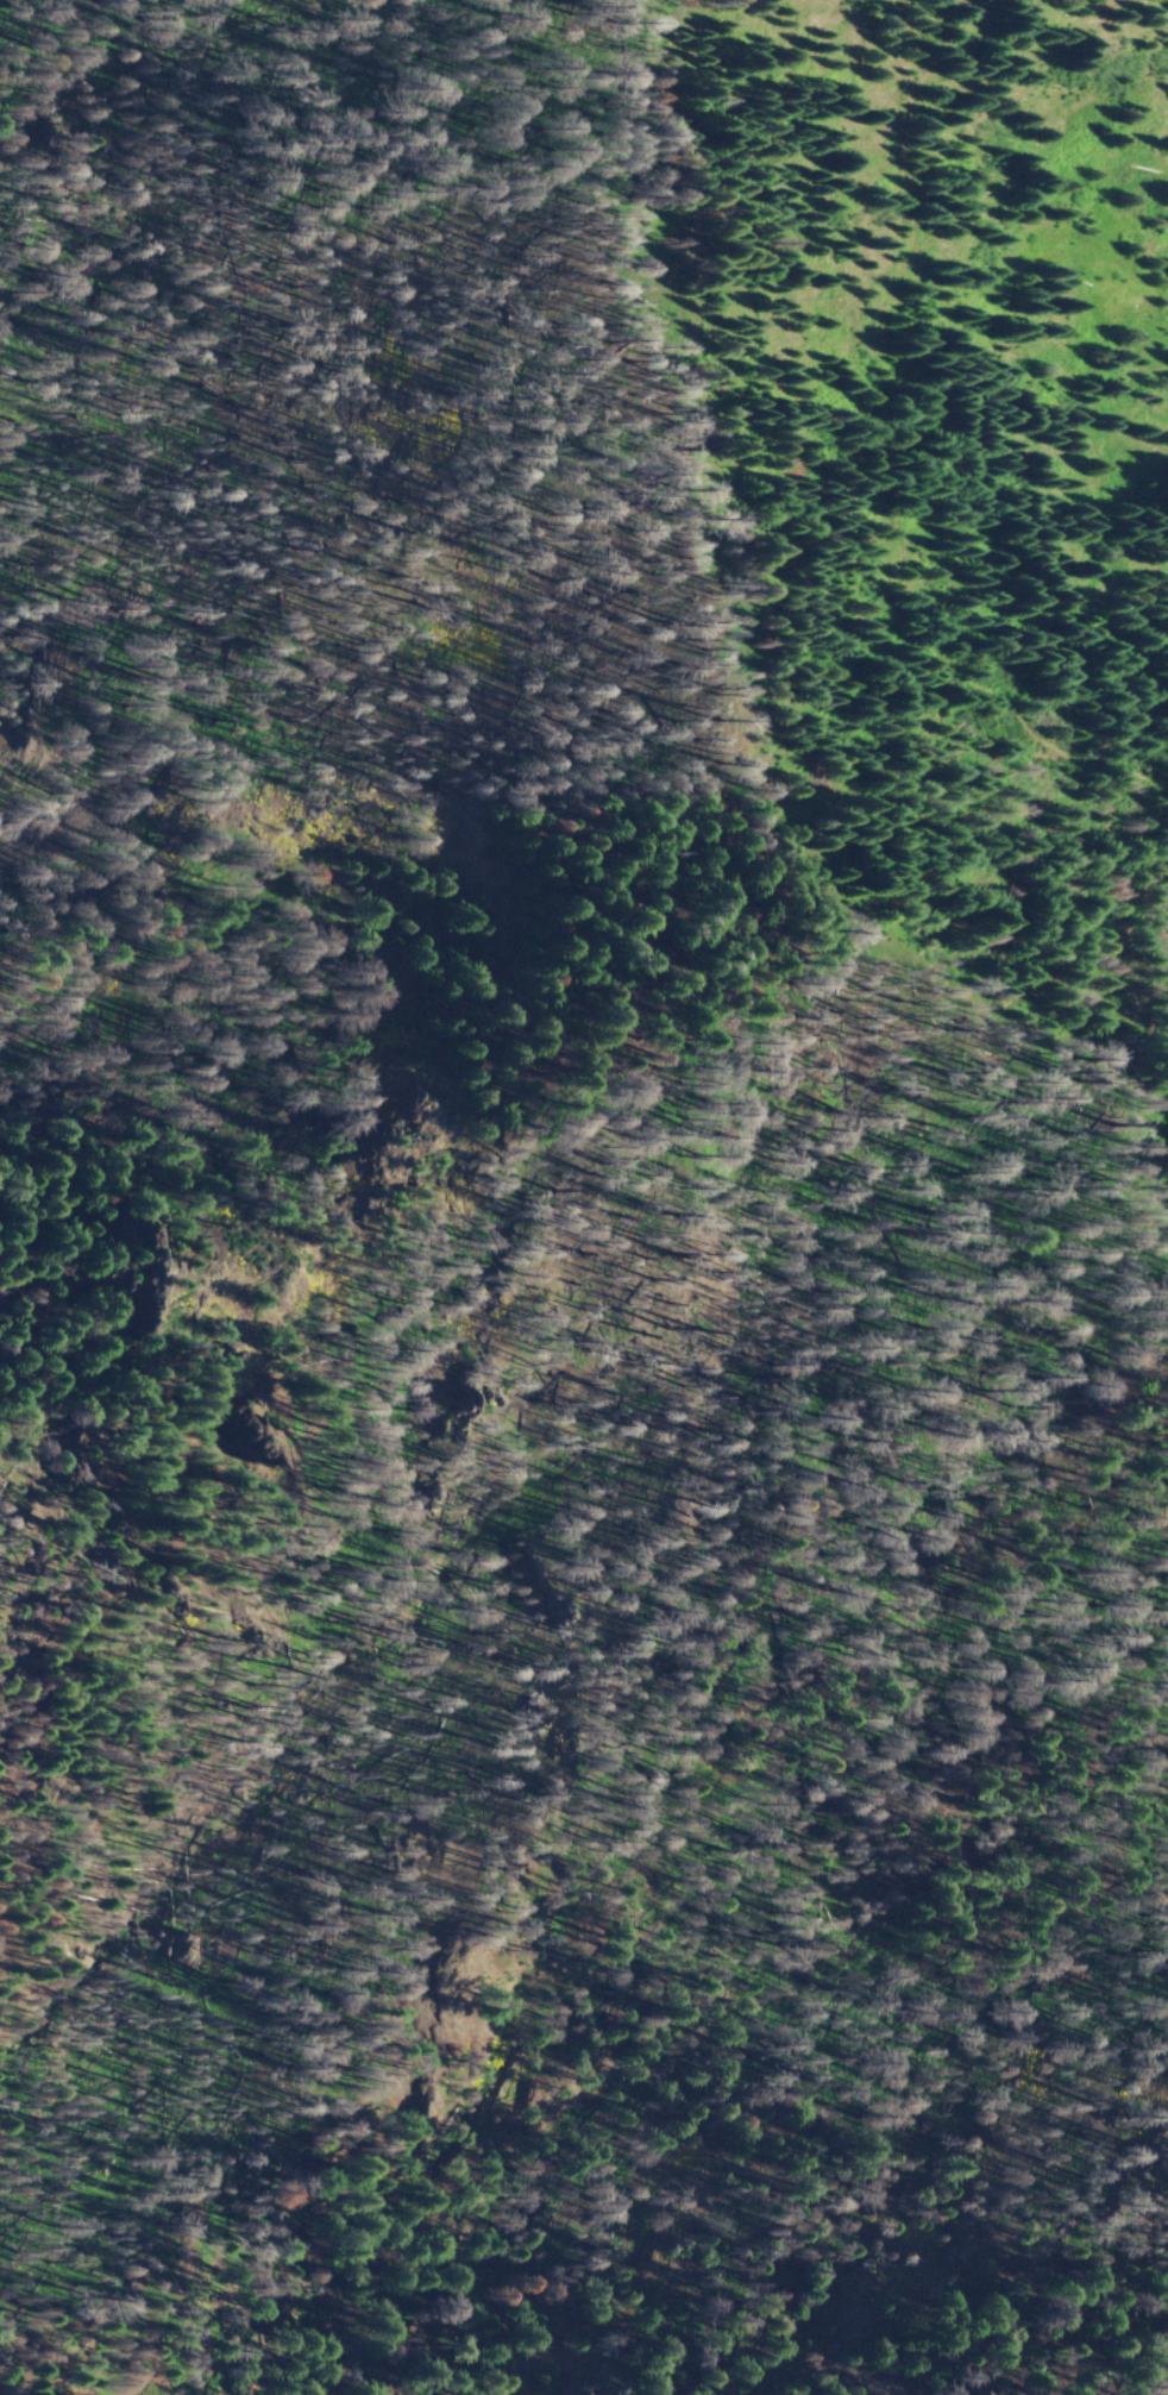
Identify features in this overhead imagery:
road: (888, 456)

